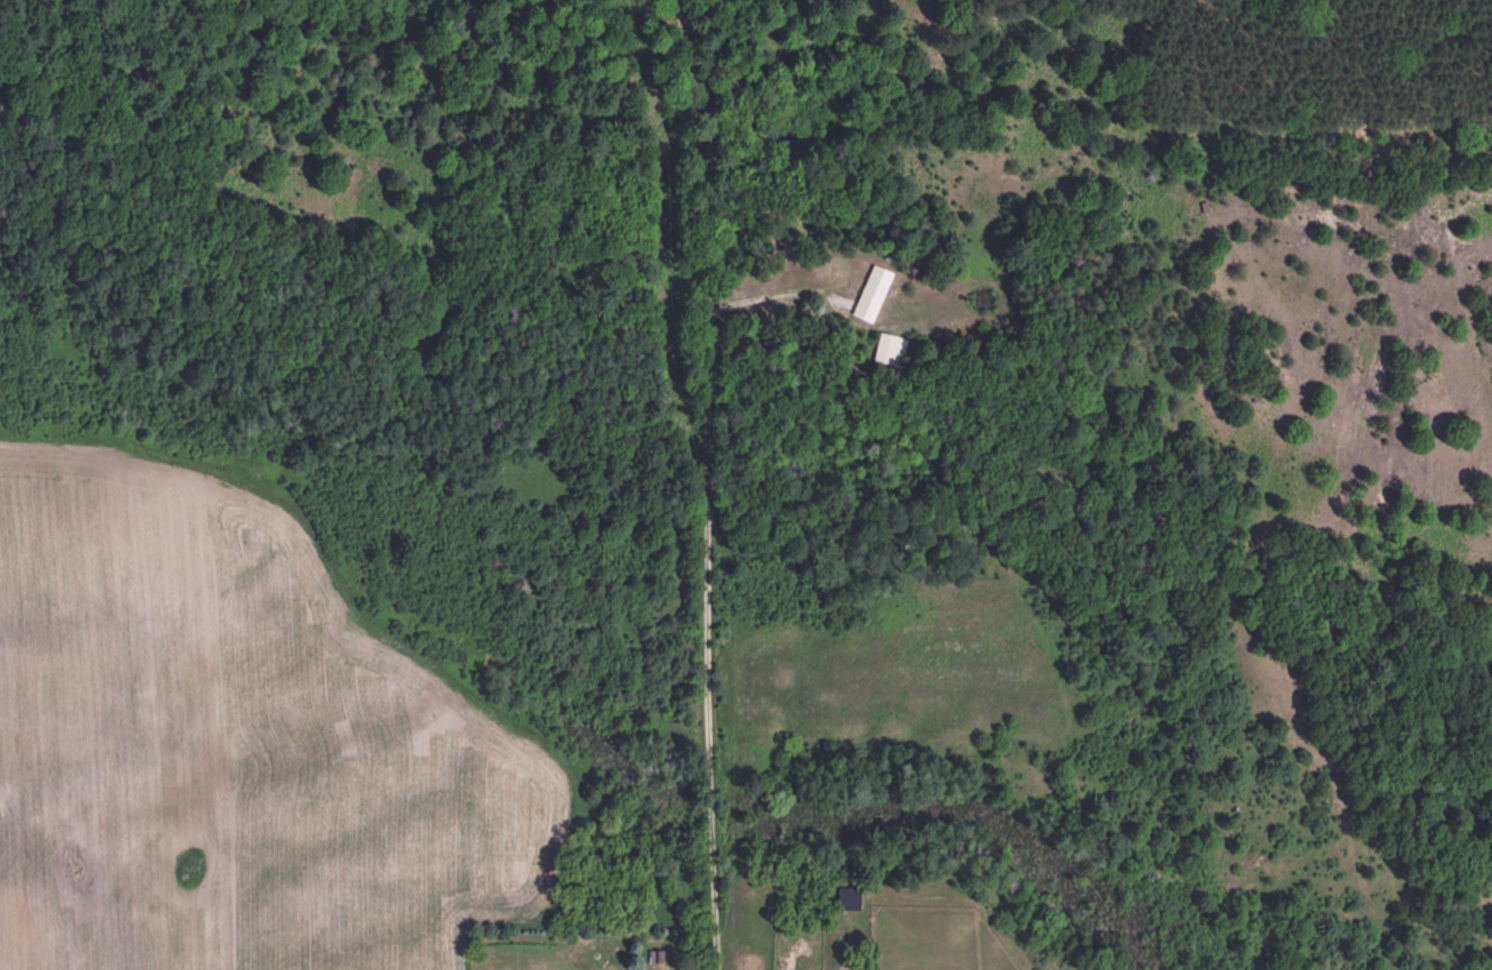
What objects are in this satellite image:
building: (869, 292)
building: (888, 348)
road: (696, 484)

